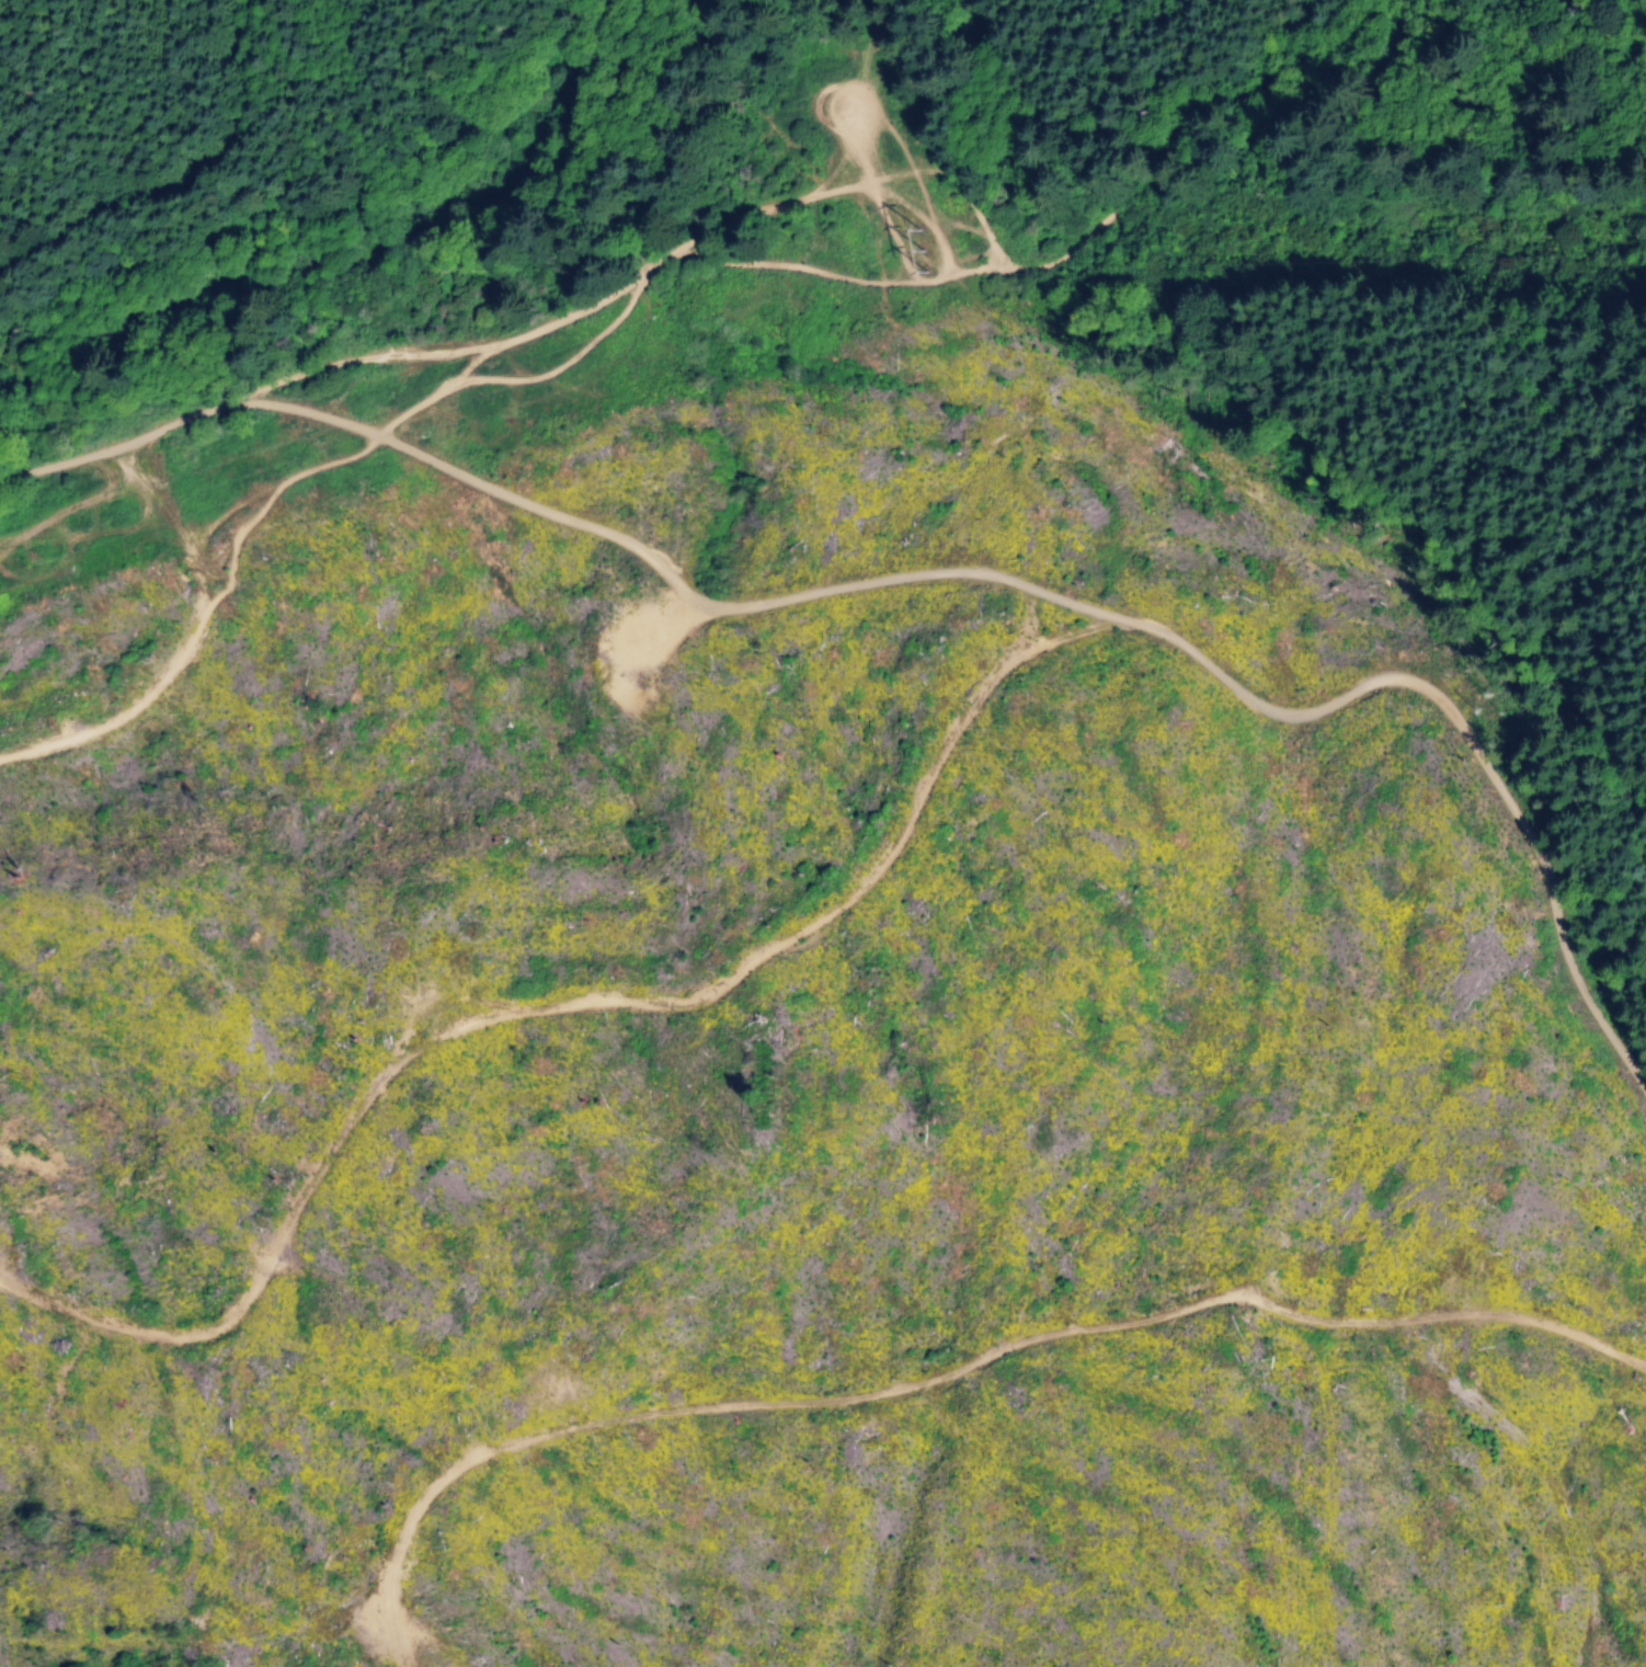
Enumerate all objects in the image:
road: (30, 18)
road: (981, 226)
power tower: (904, 237)
road: (265, 458)
road: (127, 625)
road: (1156, 641)

